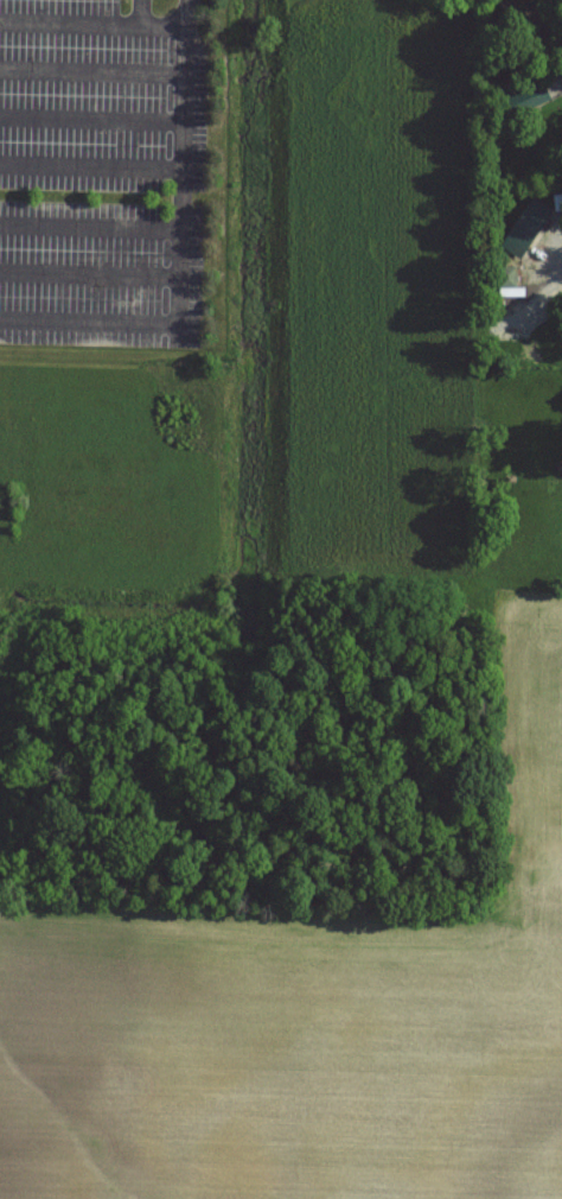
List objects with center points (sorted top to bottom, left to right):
road: (70, 19)
road: (154, 23)
road: (94, 70)
road: (92, 116)
road: (91, 166)
road: (90, 226)
road: (180, 246)
road: (553, 260)
road: (89, 273)
building: (505, 279)

